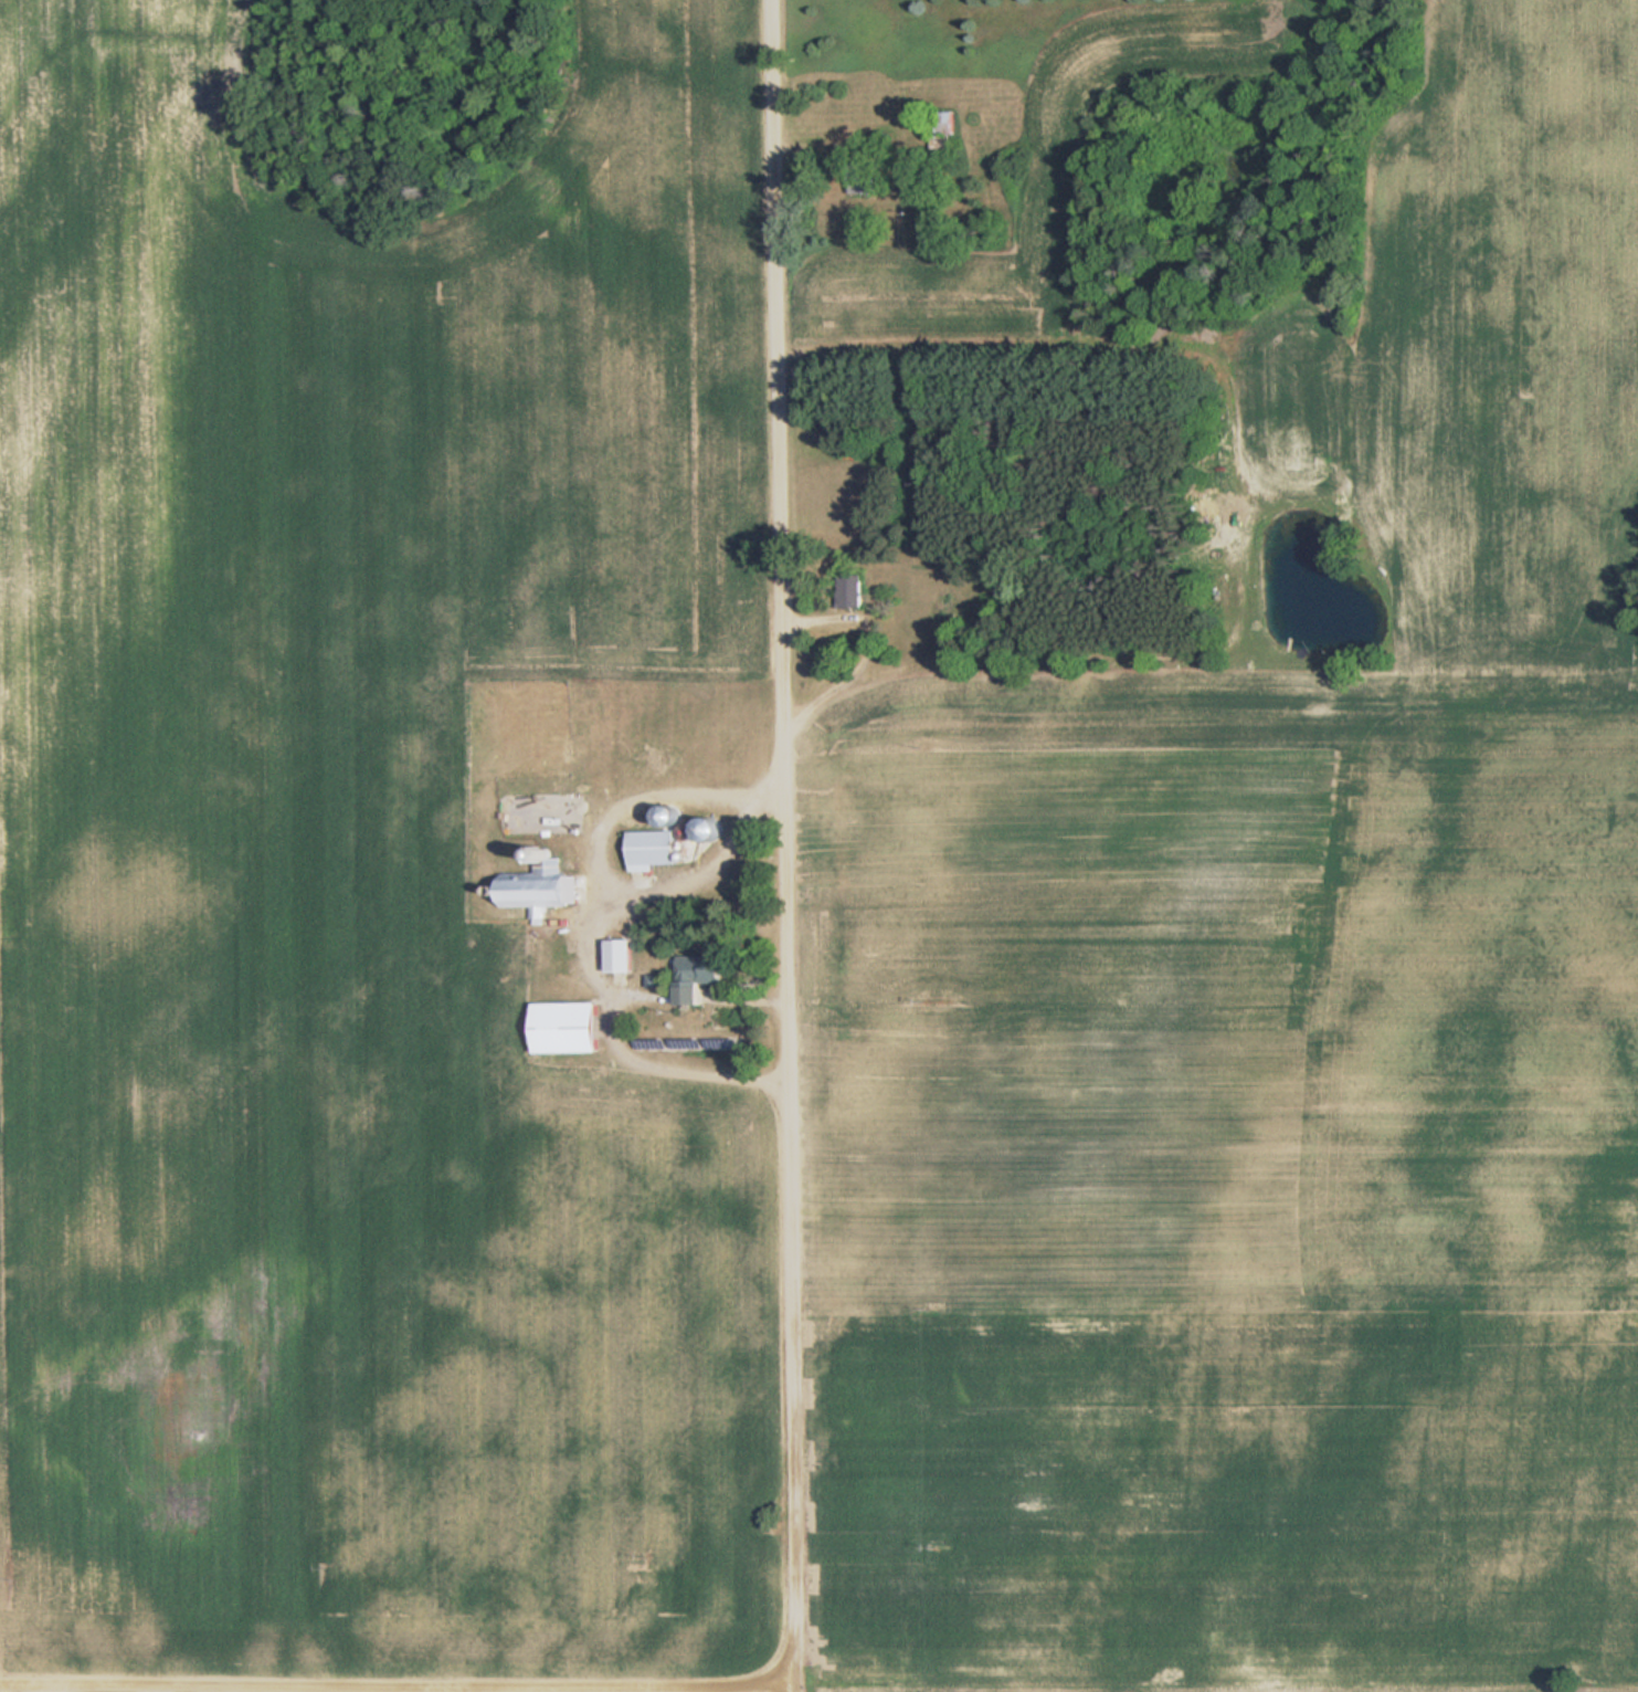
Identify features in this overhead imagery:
building: (944, 130)
building: (866, 178)
road: (789, 845)
building: (655, 851)
building: (540, 887)
building: (623, 956)
building: (705, 969)
building: (570, 1028)
road: (632, 1691)

